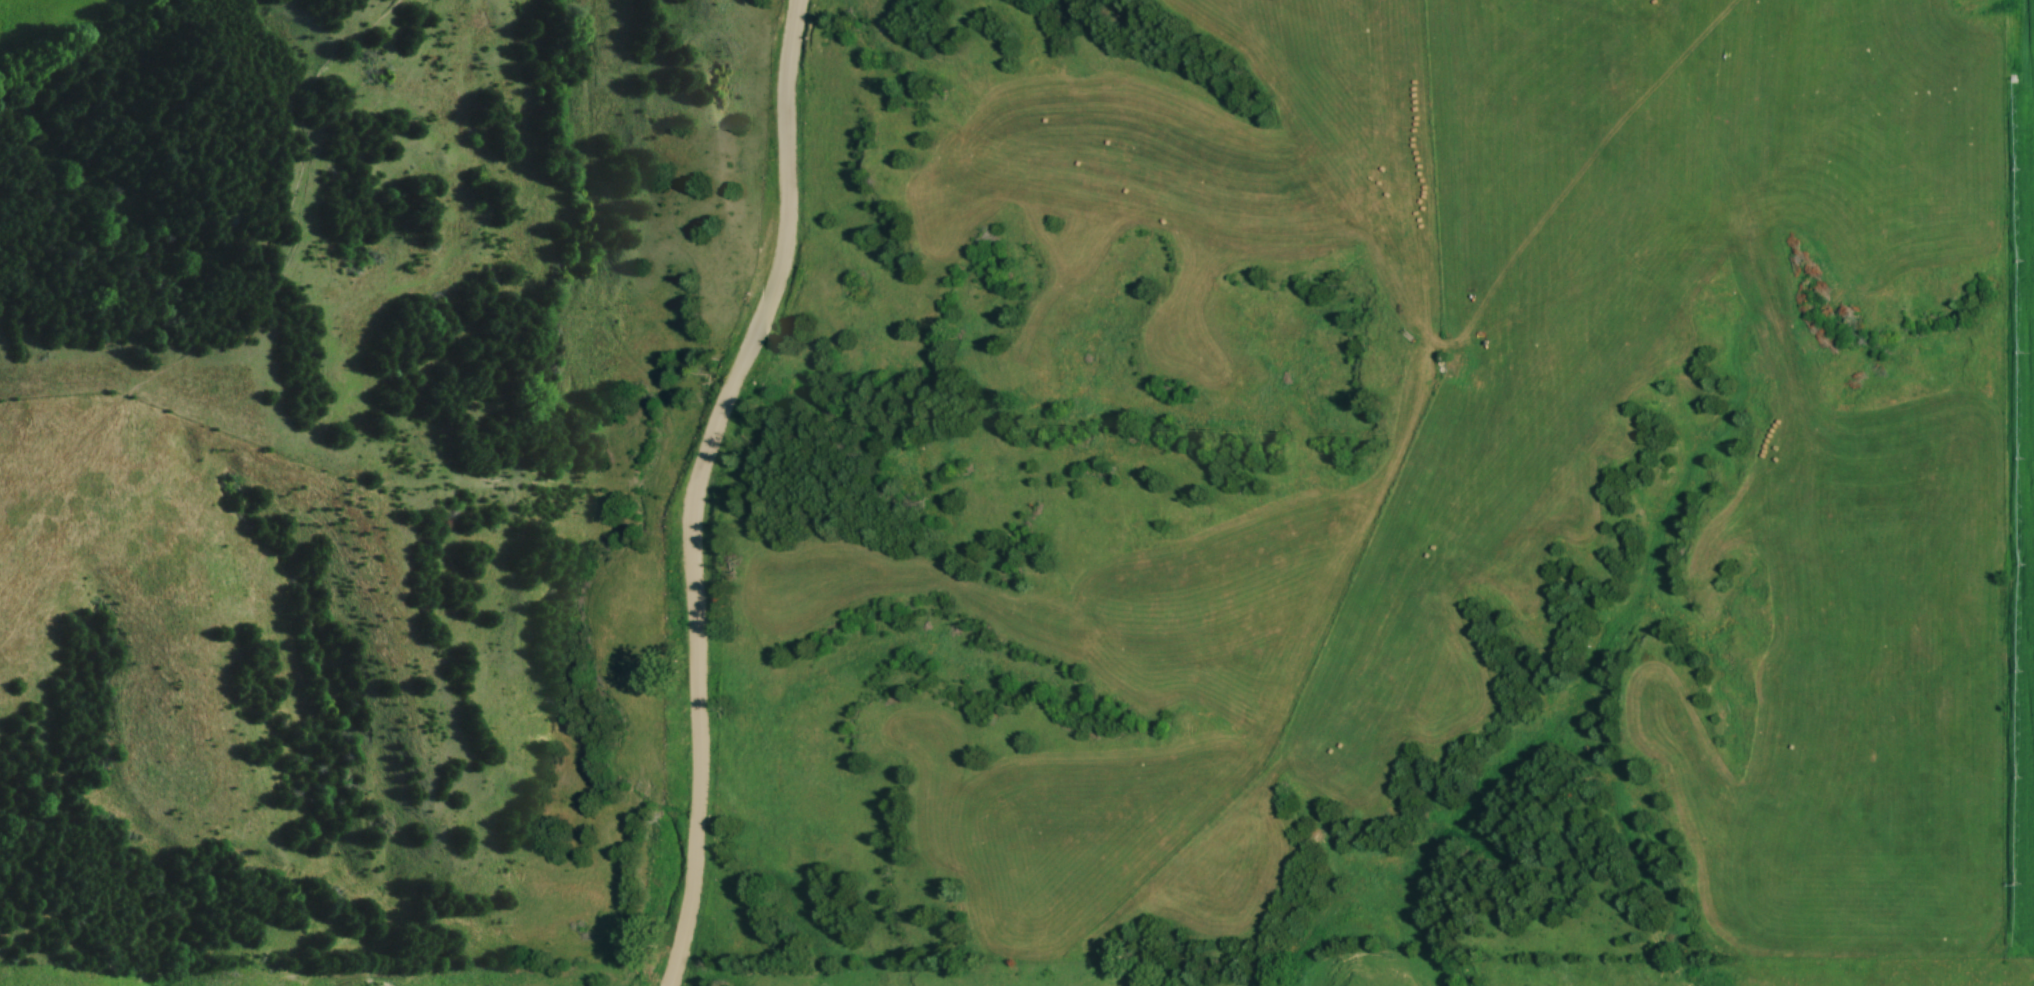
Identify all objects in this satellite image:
road: (698, 486)

